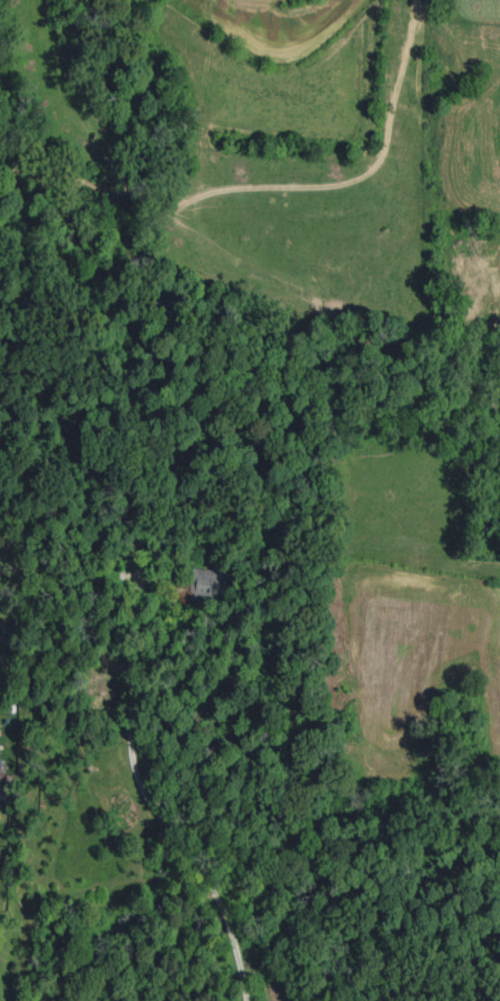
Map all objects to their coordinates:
building: (209, 585)
building: (2, 783)
road: (153, 804)

